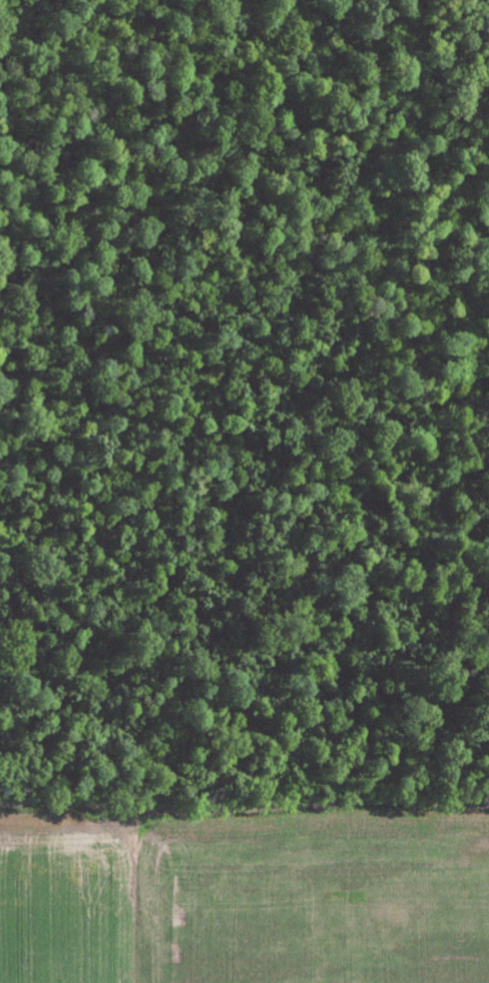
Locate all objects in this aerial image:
park: (244, 394)

